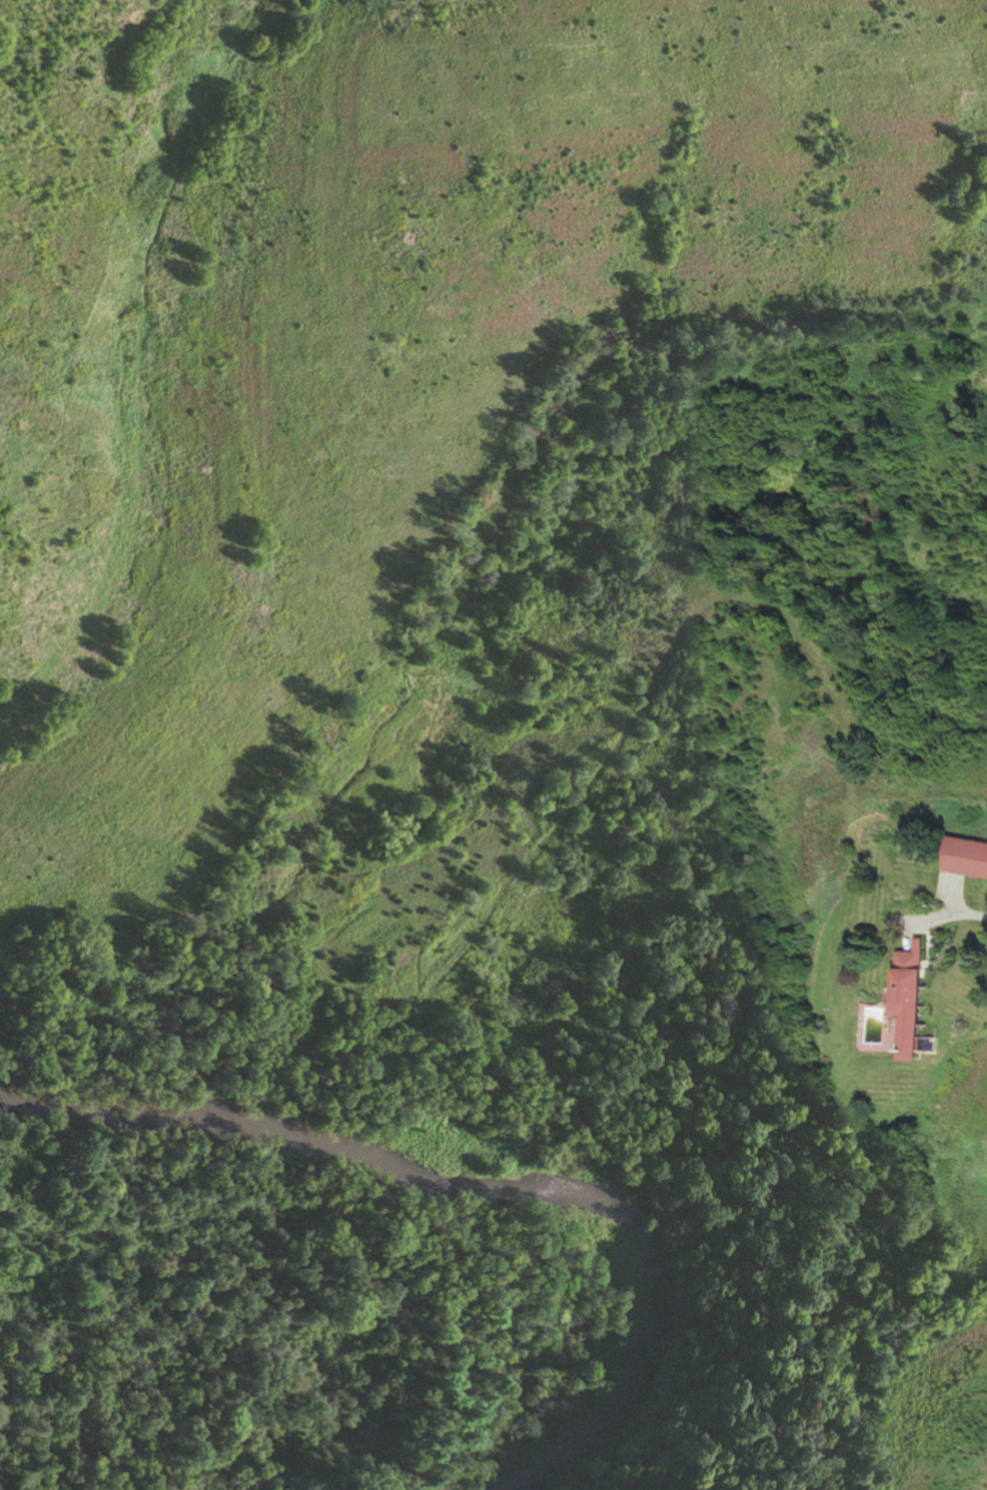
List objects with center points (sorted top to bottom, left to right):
building: (970, 856)
building: (915, 997)
river: (472, 1192)

